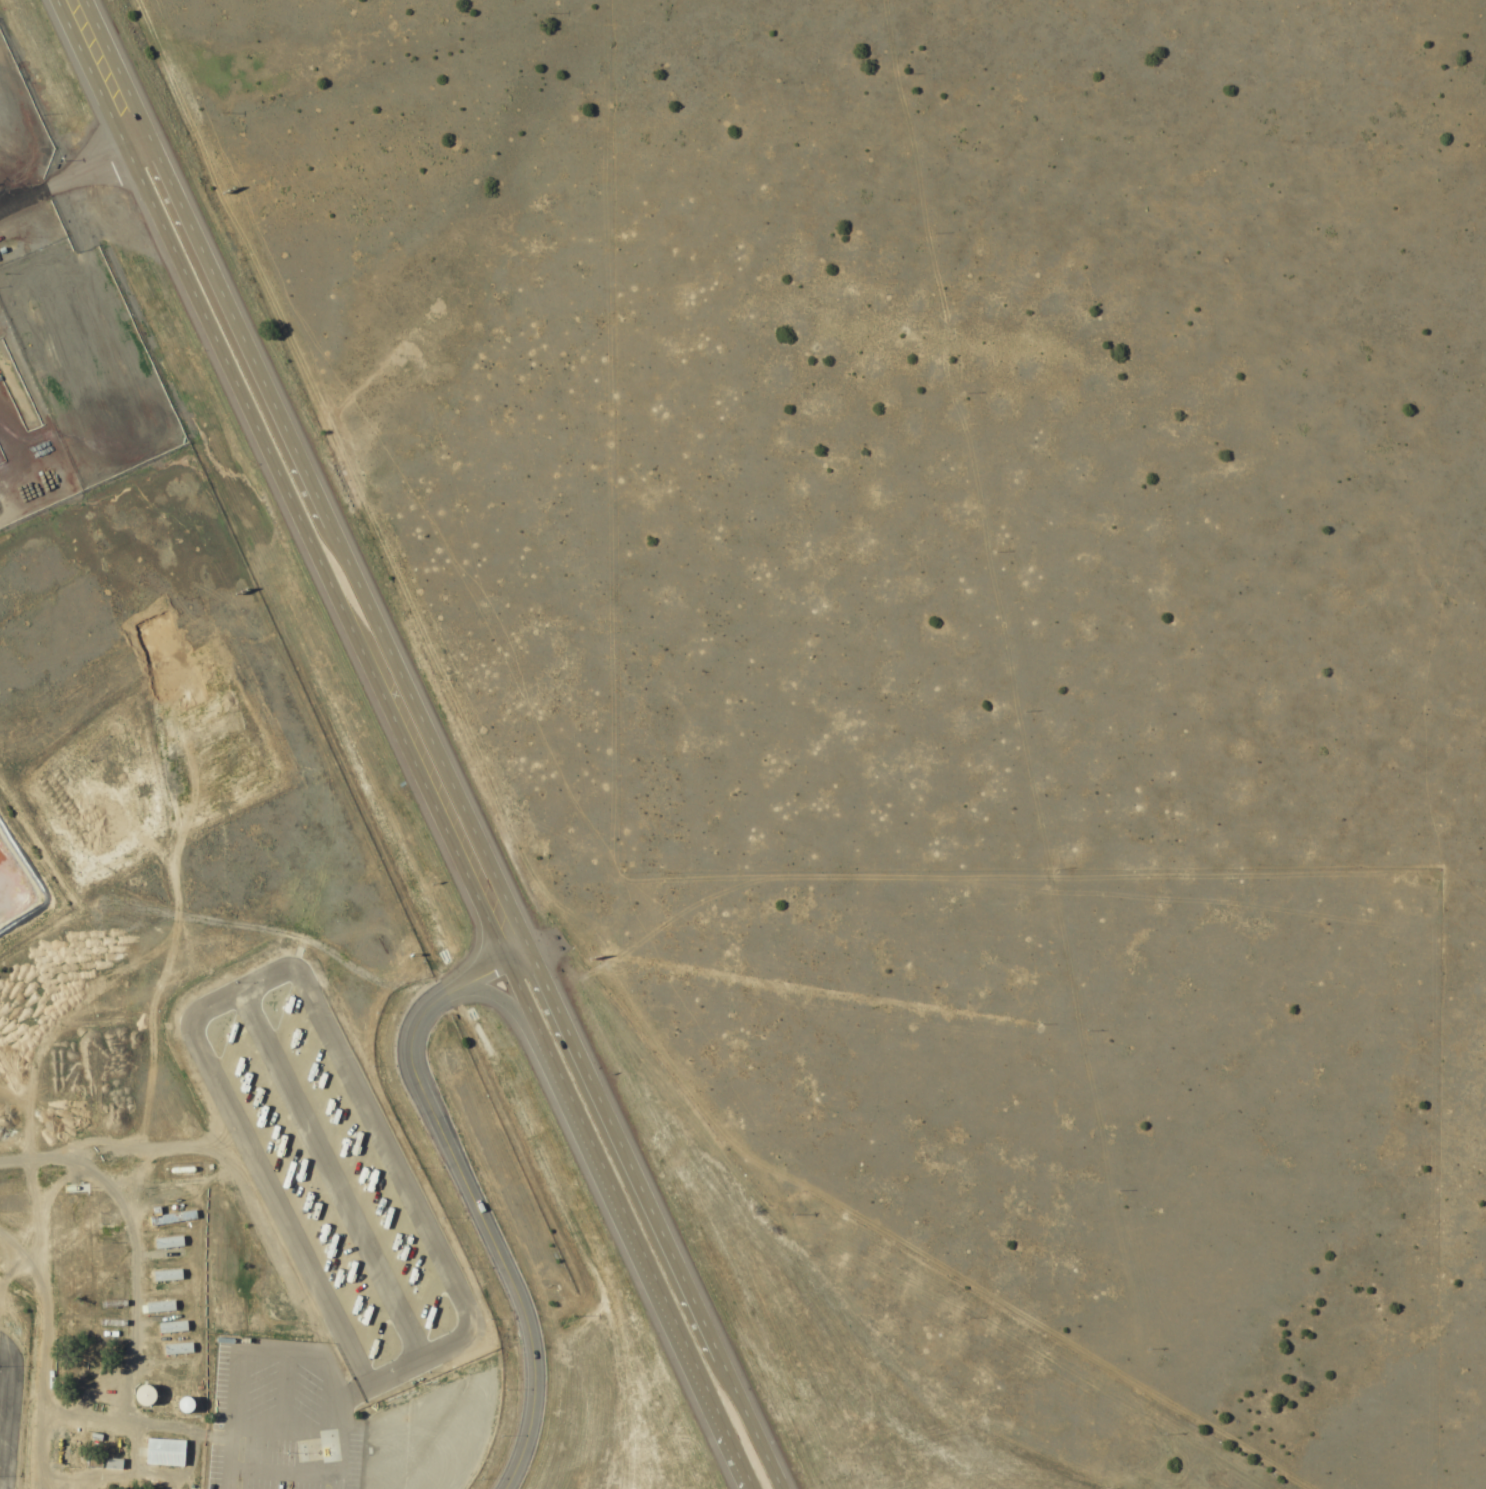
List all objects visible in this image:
road: (95, 70)
road: (76, 165)
building: (54, 290)
road: (230, 329)
building: (113, 429)
road: (308, 558)
road: (423, 745)
road: (500, 1000)
road: (619, 1159)
road: (493, 1201)
road: (624, 1231)
building: (164, 1243)
road: (7, 1255)
road: (137, 1262)
building: (89, 1276)
building: (156, 1308)
building: (20, 1318)
road: (47, 1326)
building: (1, 1350)
building: (173, 1350)
building: (12, 1377)
building: (141, 1400)
storage tank: (141, 1400)
building: (182, 1409)
storage tank: (182, 1409)
parking lot: (286, 1420)
road: (743, 1422)
road: (280, 1451)
building: (11, 1453)
building: (270, 1454)
building: (159, 1455)
building: (49, 1458)
building: (100, 1464)
road: (282, 1470)

